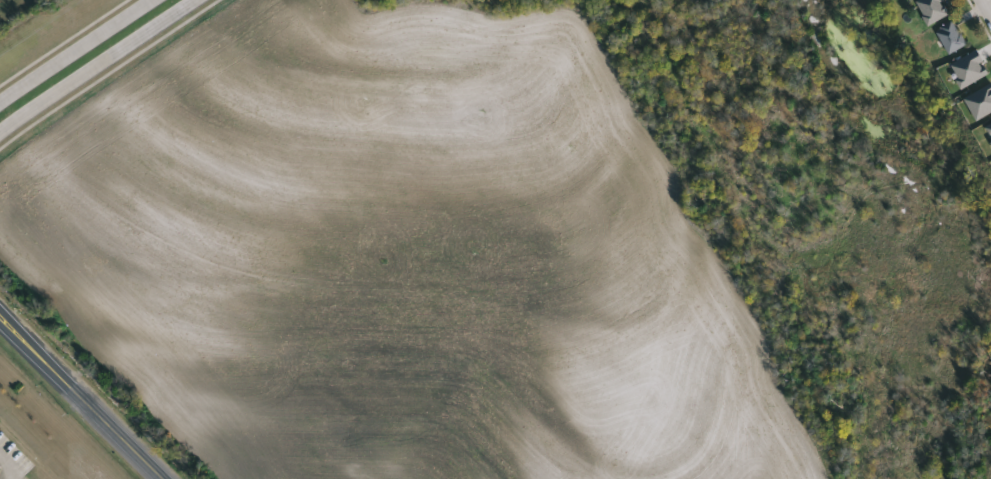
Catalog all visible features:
road: (988, 4)
building: (934, 9)
building: (952, 37)
road: (74, 48)
road: (95, 65)
road: (82, 397)
parking lot: (11, 460)
road: (5, 463)

